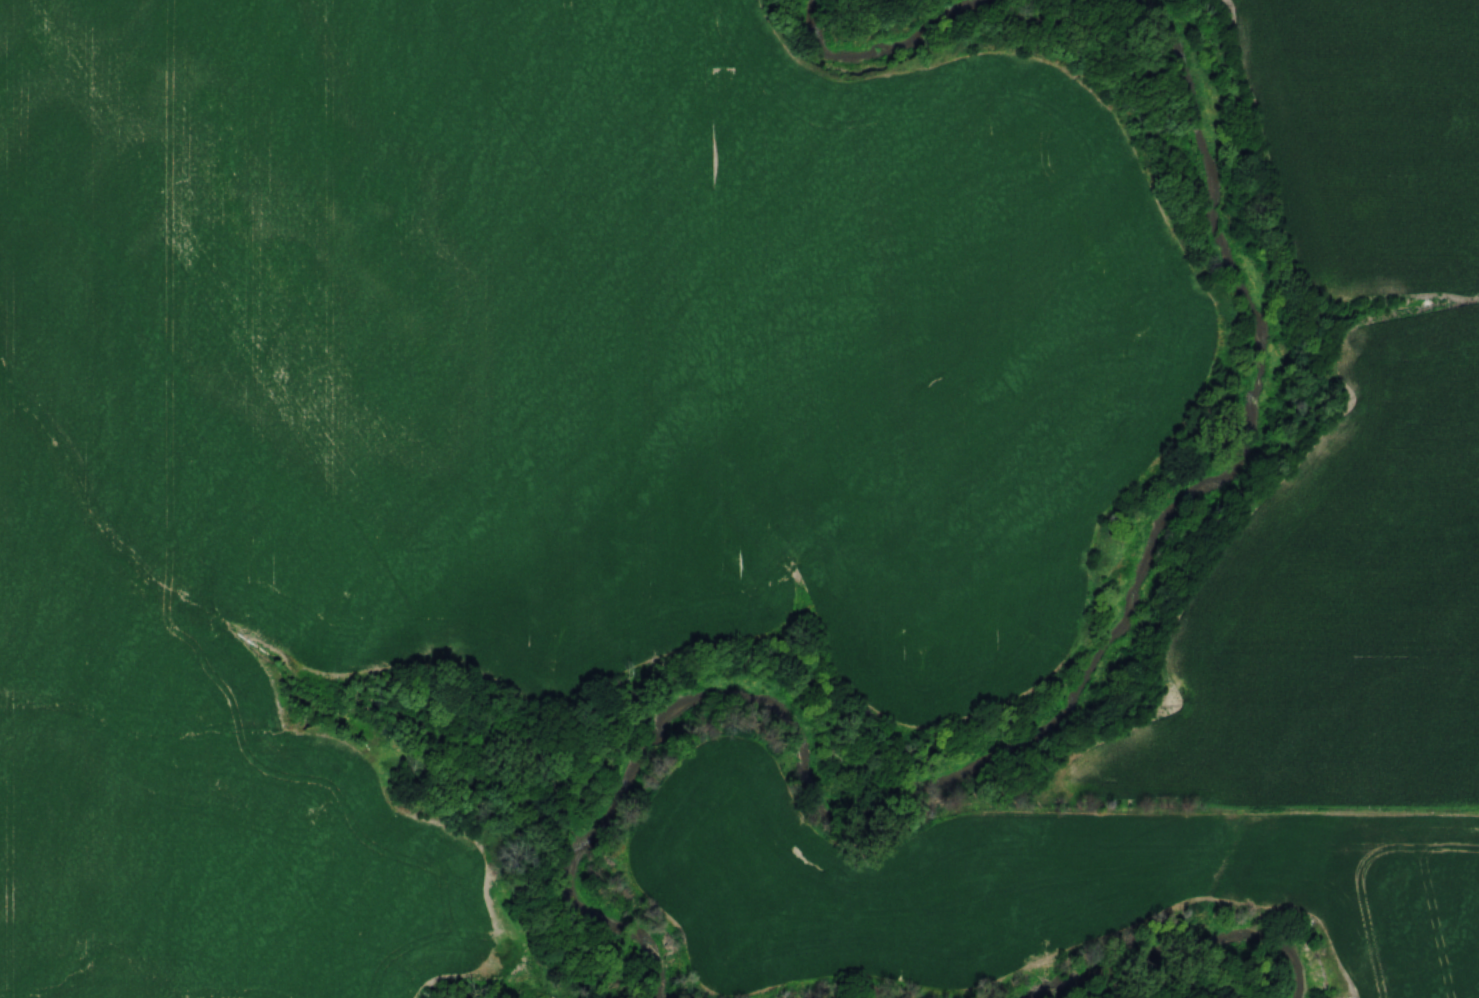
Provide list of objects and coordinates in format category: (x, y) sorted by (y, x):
river: (866, 53)
river: (1064, 710)
river: (1181, 946)

